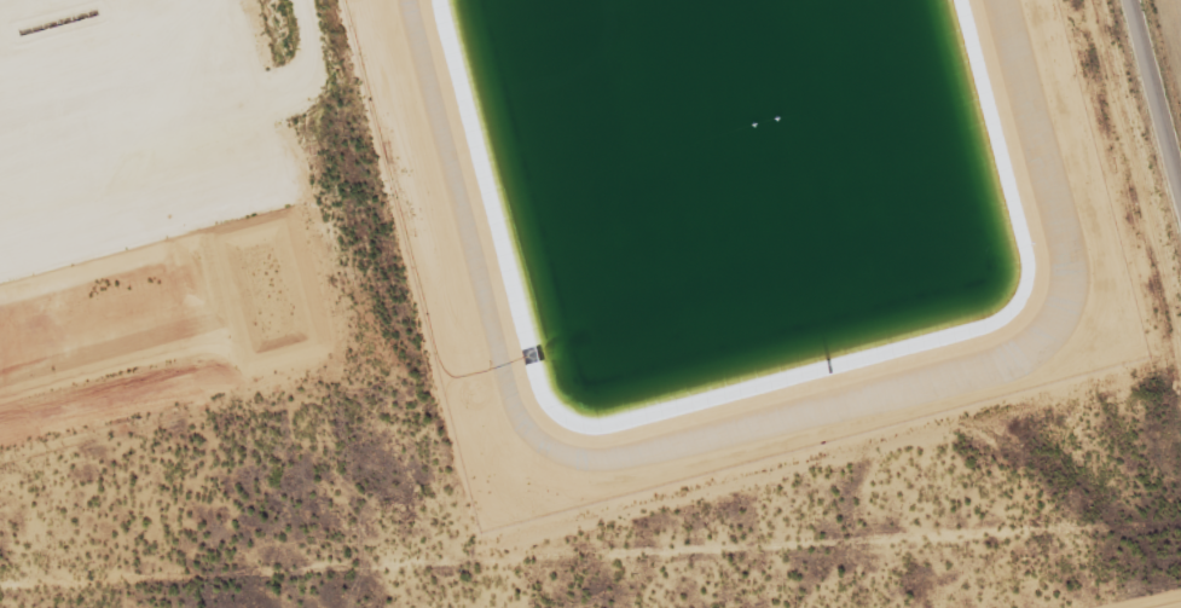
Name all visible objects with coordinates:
road: (1151, 115)

